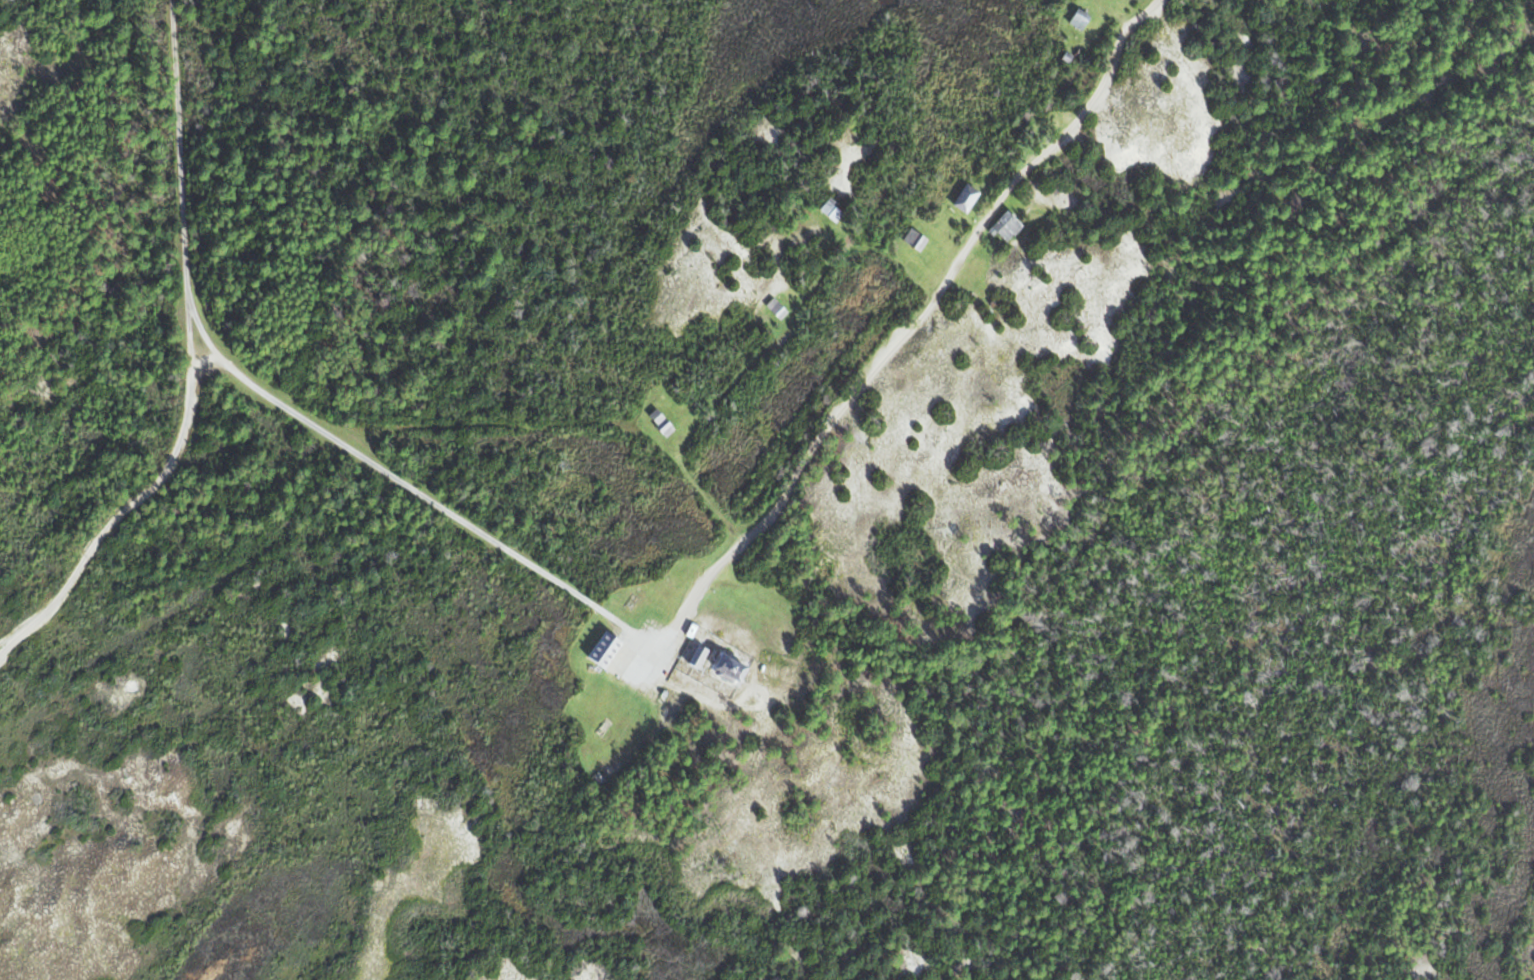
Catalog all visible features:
building: (1078, 17)
building: (1066, 55)
road: (1291, 162)
building: (965, 196)
building: (803, 208)
building: (829, 208)
building: (1004, 224)
building: (914, 238)
building: (977, 269)
building: (972, 293)
building: (992, 302)
building: (775, 307)
road: (189, 318)
road: (917, 326)
road: (762, 350)
road: (190, 353)
road: (203, 358)
road: (283, 406)
building: (660, 421)
road: (498, 423)
road: (184, 426)
road: (81, 564)
building: (630, 600)
building: (690, 628)
storage tank: (690, 628)
building: (603, 647)
parking lot: (646, 653)
building: (697, 654)
building: (710, 655)
storage tank: (710, 655)
building: (730, 665)
building: (597, 667)
building: (760, 667)
storage tank: (760, 667)
road: (695, 668)
road: (753, 677)
road: (697, 679)
road: (719, 683)
building: (663, 692)
building: (602, 725)
building: (124, 771)
building: (73, 783)
building: (36, 797)
building: (7, 806)

